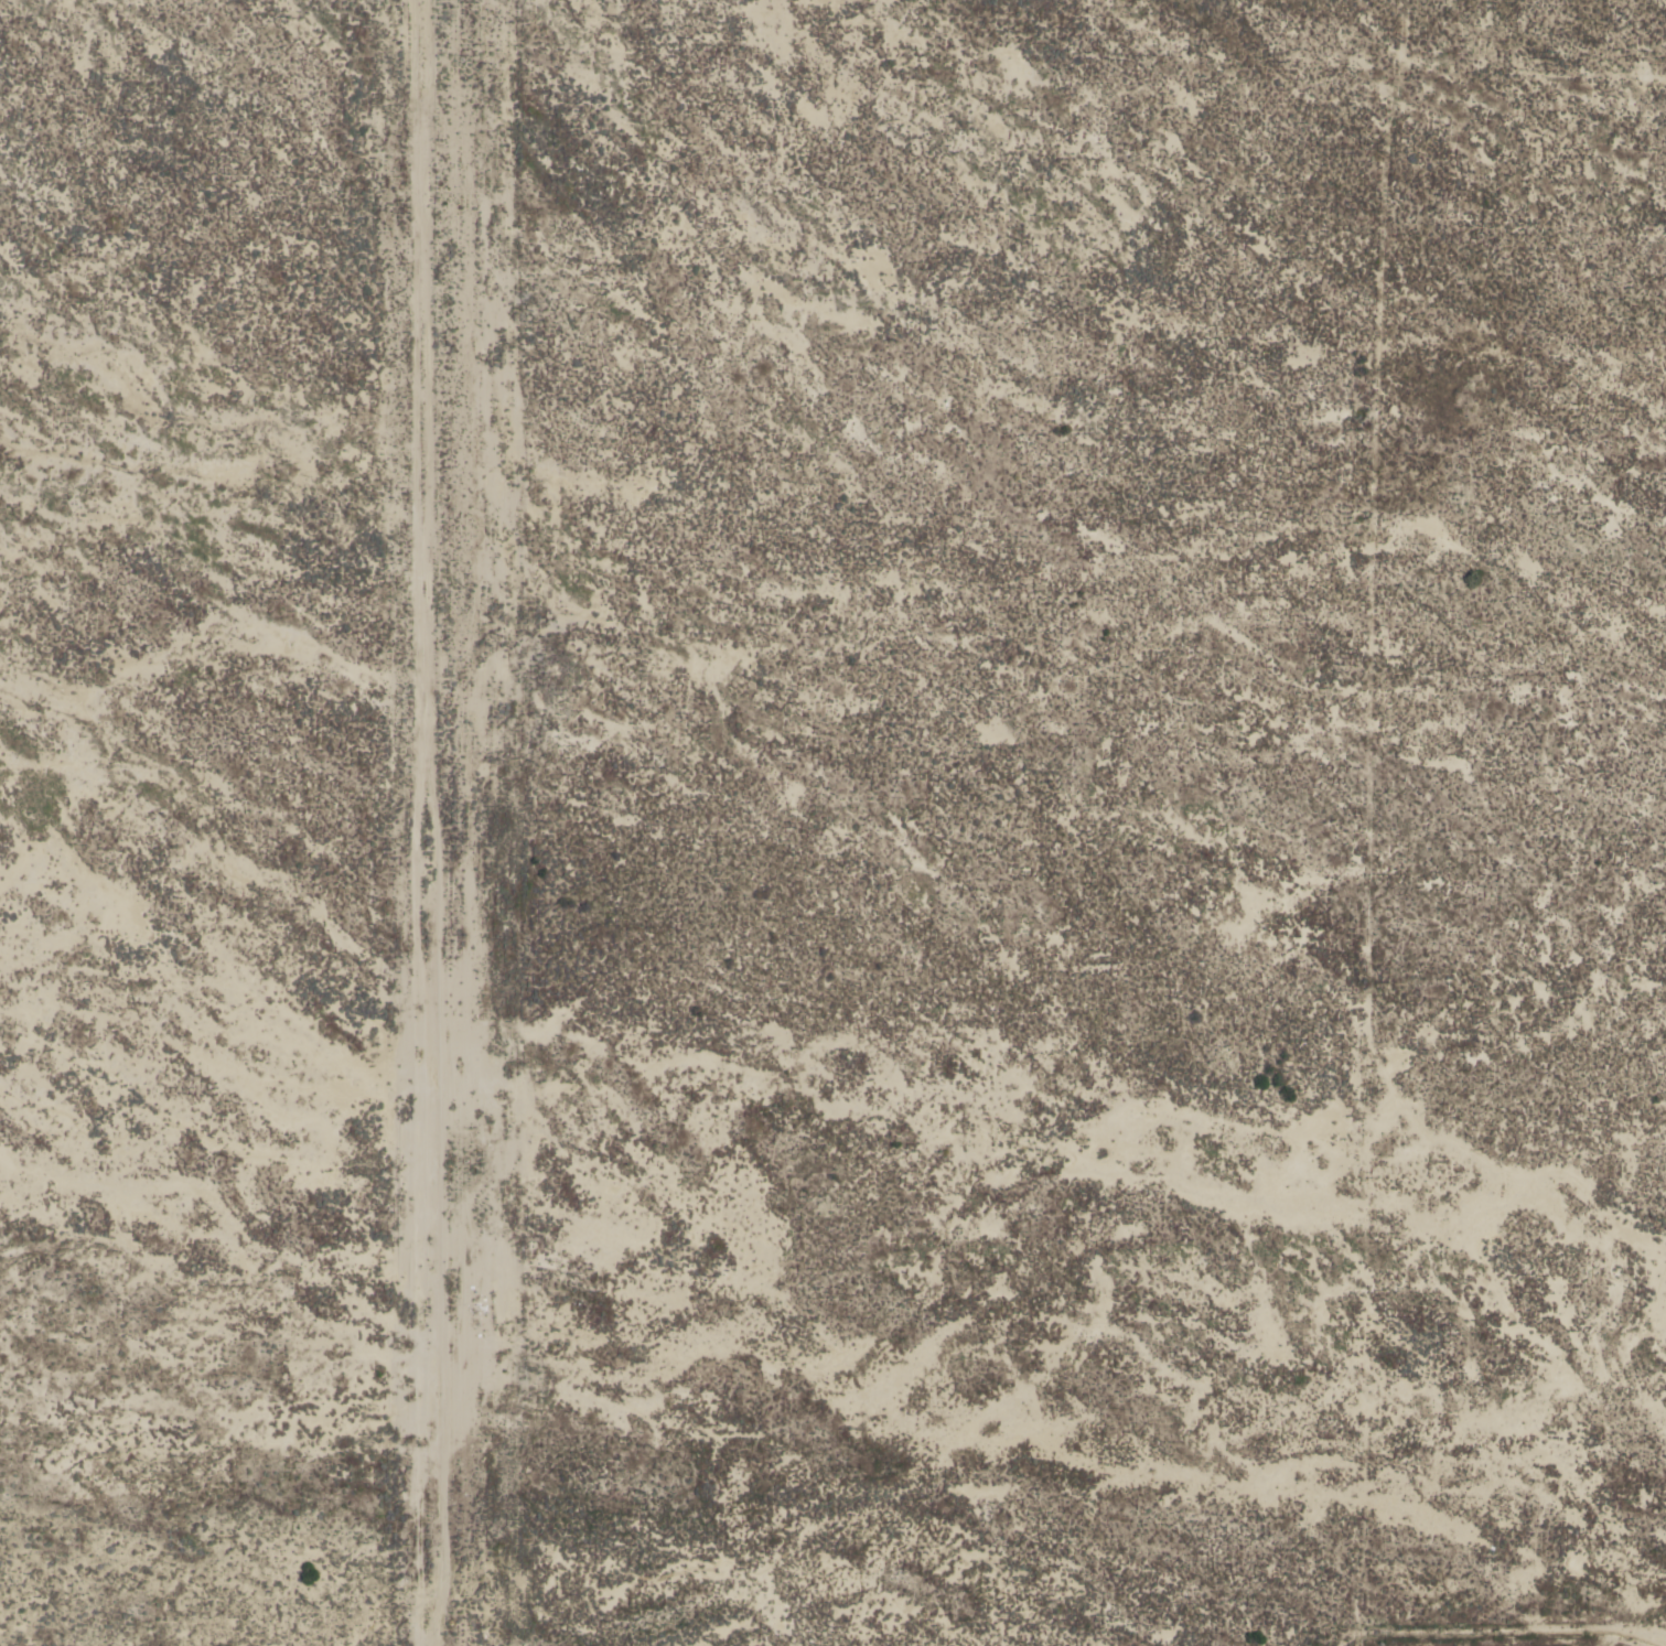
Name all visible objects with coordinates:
railway: (391, 1013)
railway: (385, 1023)

